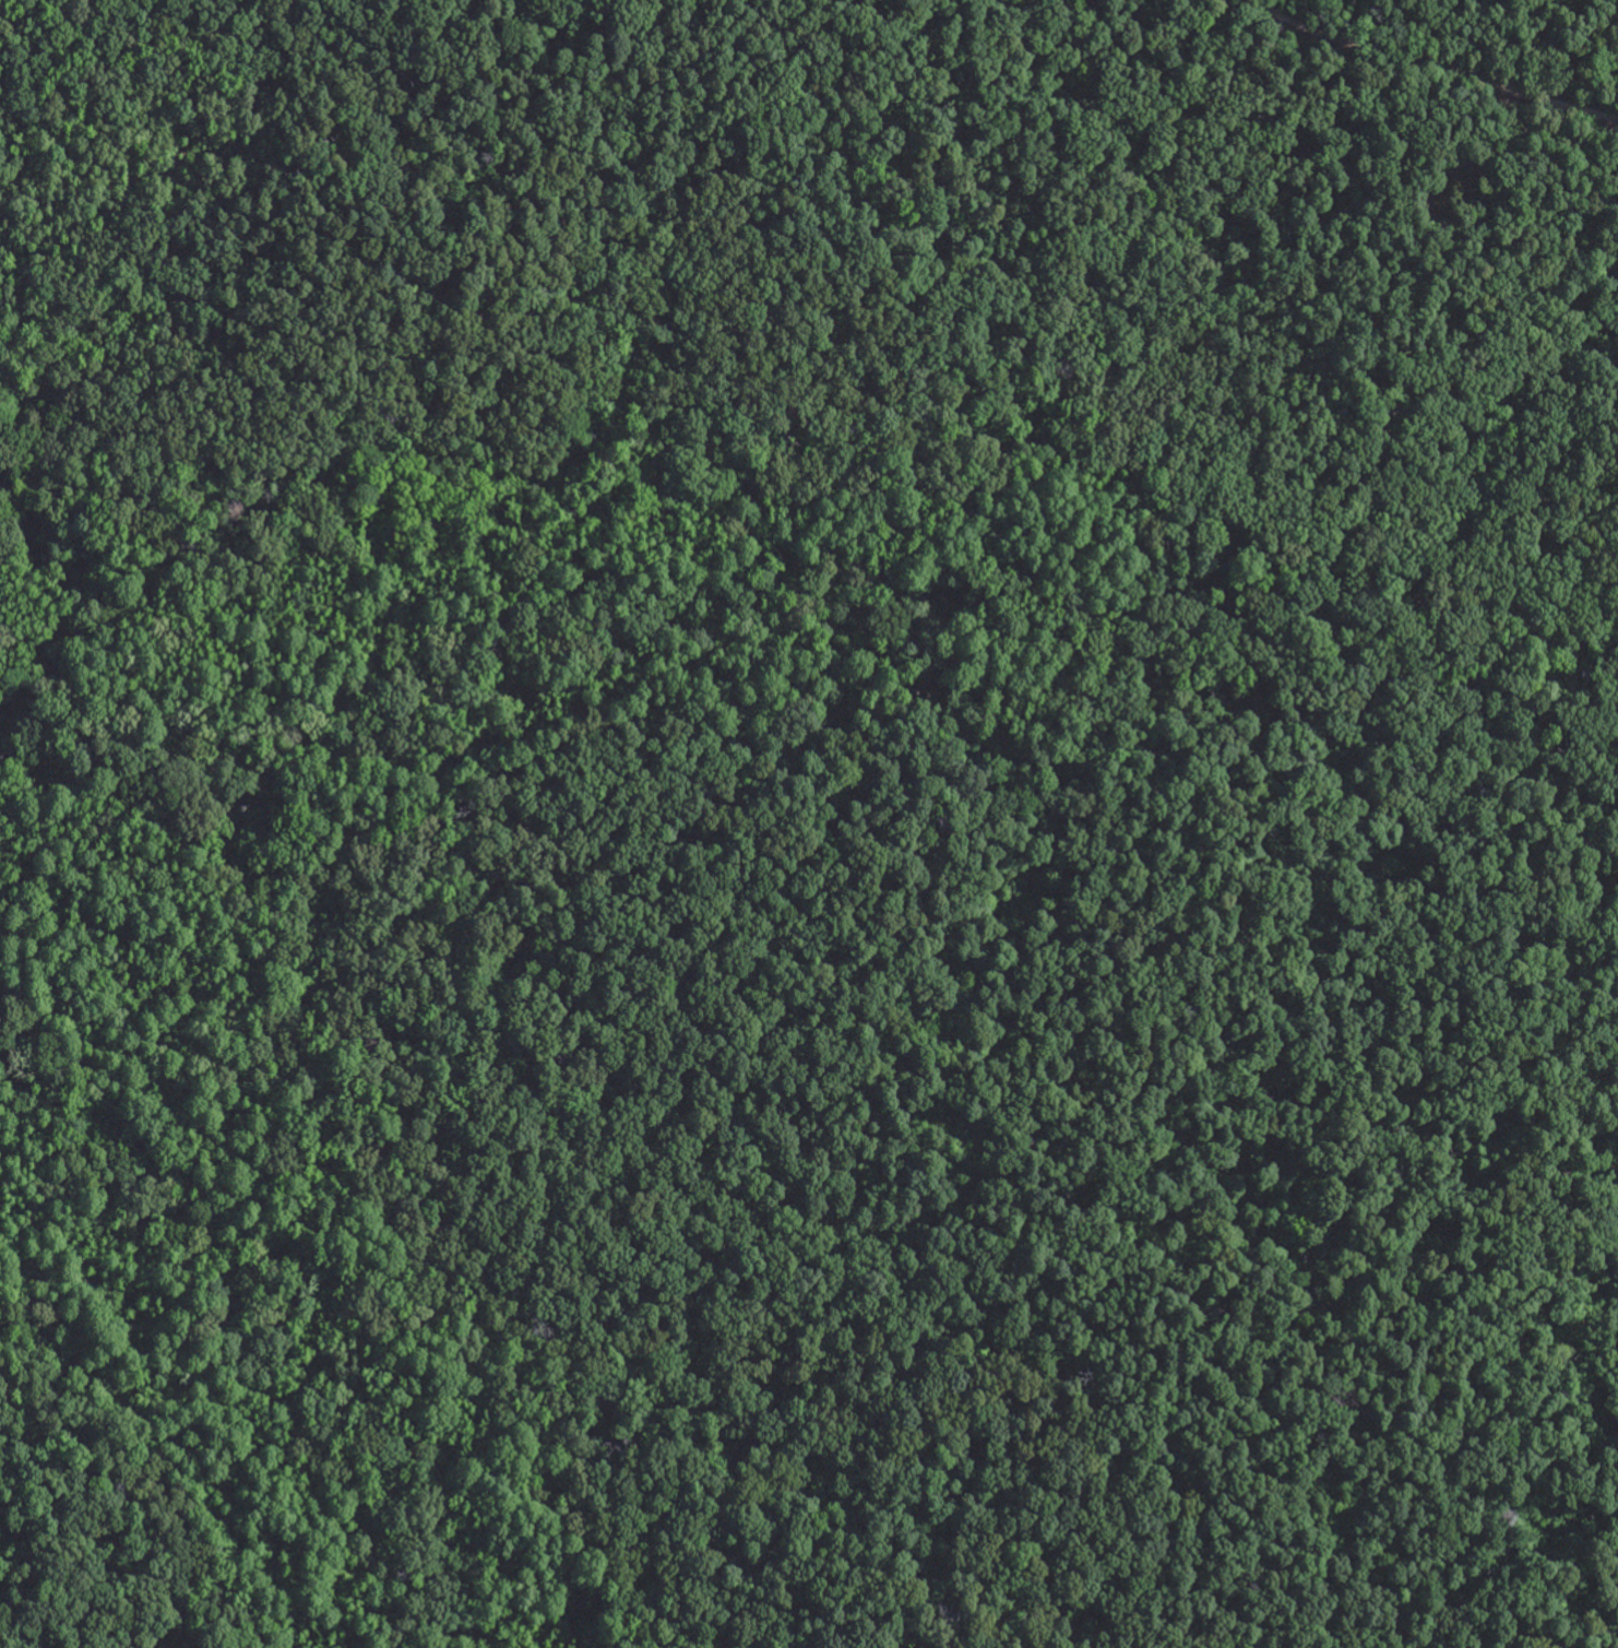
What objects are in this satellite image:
road: (1432, 64)

